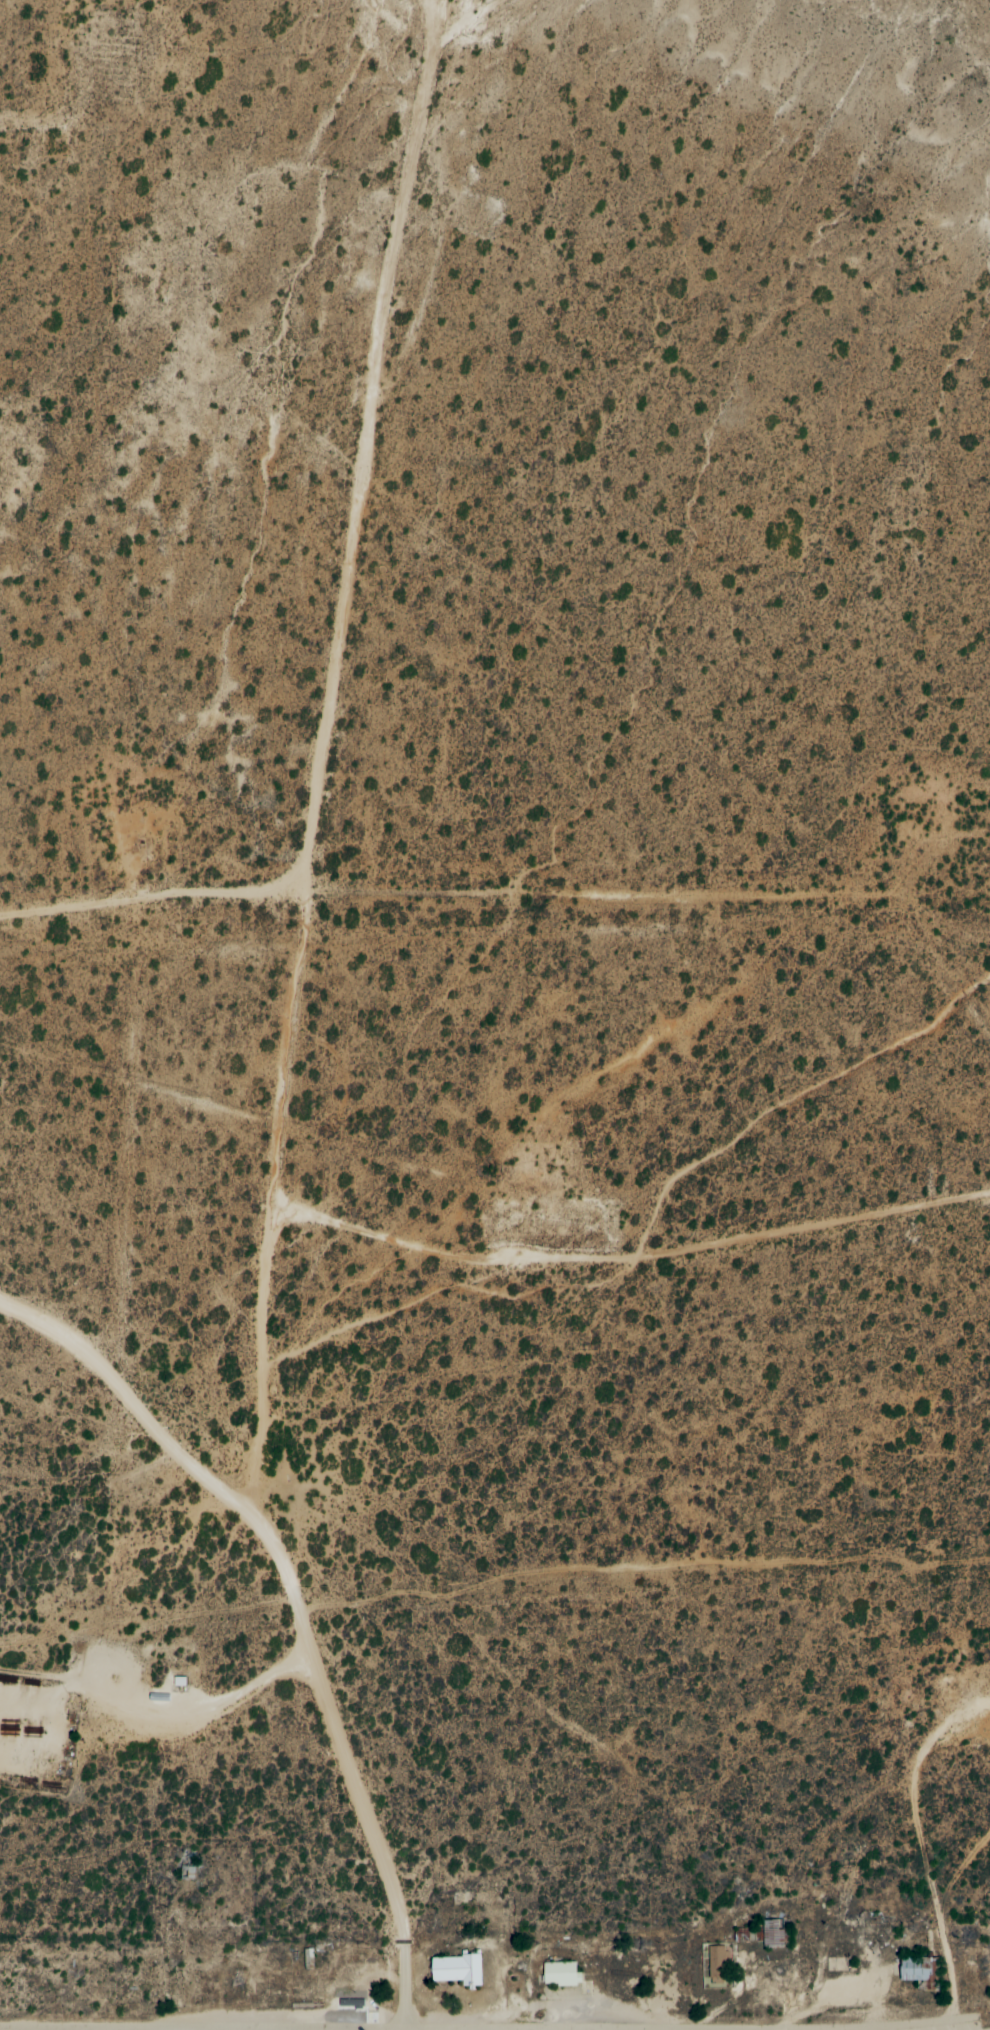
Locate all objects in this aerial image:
road: (56, 144)
road: (319, 836)
road: (155, 907)
road: (299, 1606)
building: (456, 1970)
building: (919, 1972)
building: (559, 1975)

